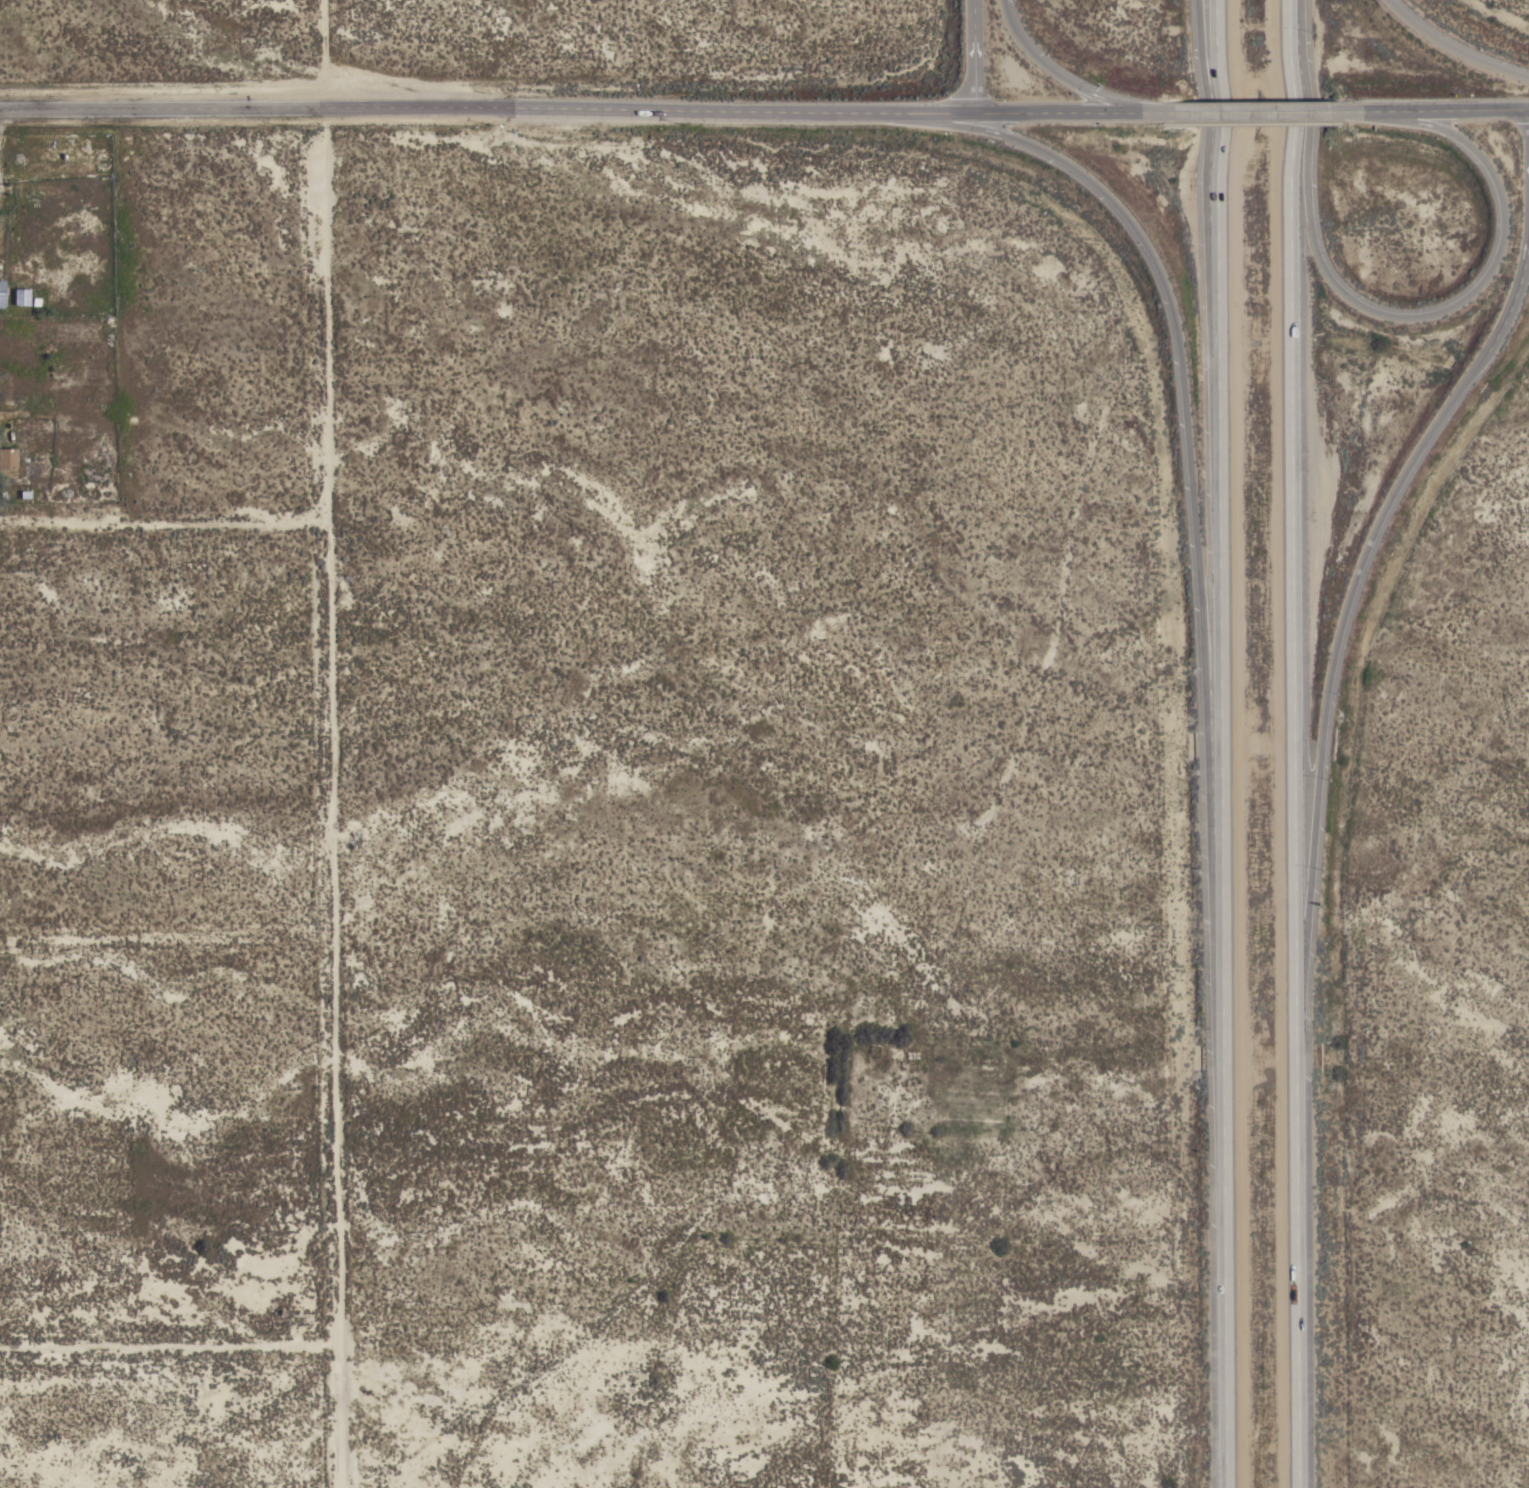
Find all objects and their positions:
road: (1449, 51)
road: (972, 54)
road: (1048, 70)
road: (584, 108)
road: (1427, 108)
road: (1248, 111)
road: (1202, 118)
building: (1, 293)
building: (24, 297)
road: (1396, 316)
road: (1179, 398)
building: (7, 458)
road: (1299, 490)
road: (164, 522)
road: (1376, 530)
road: (330, 744)
road: (1214, 744)
road: (1302, 1234)
road: (169, 1347)

